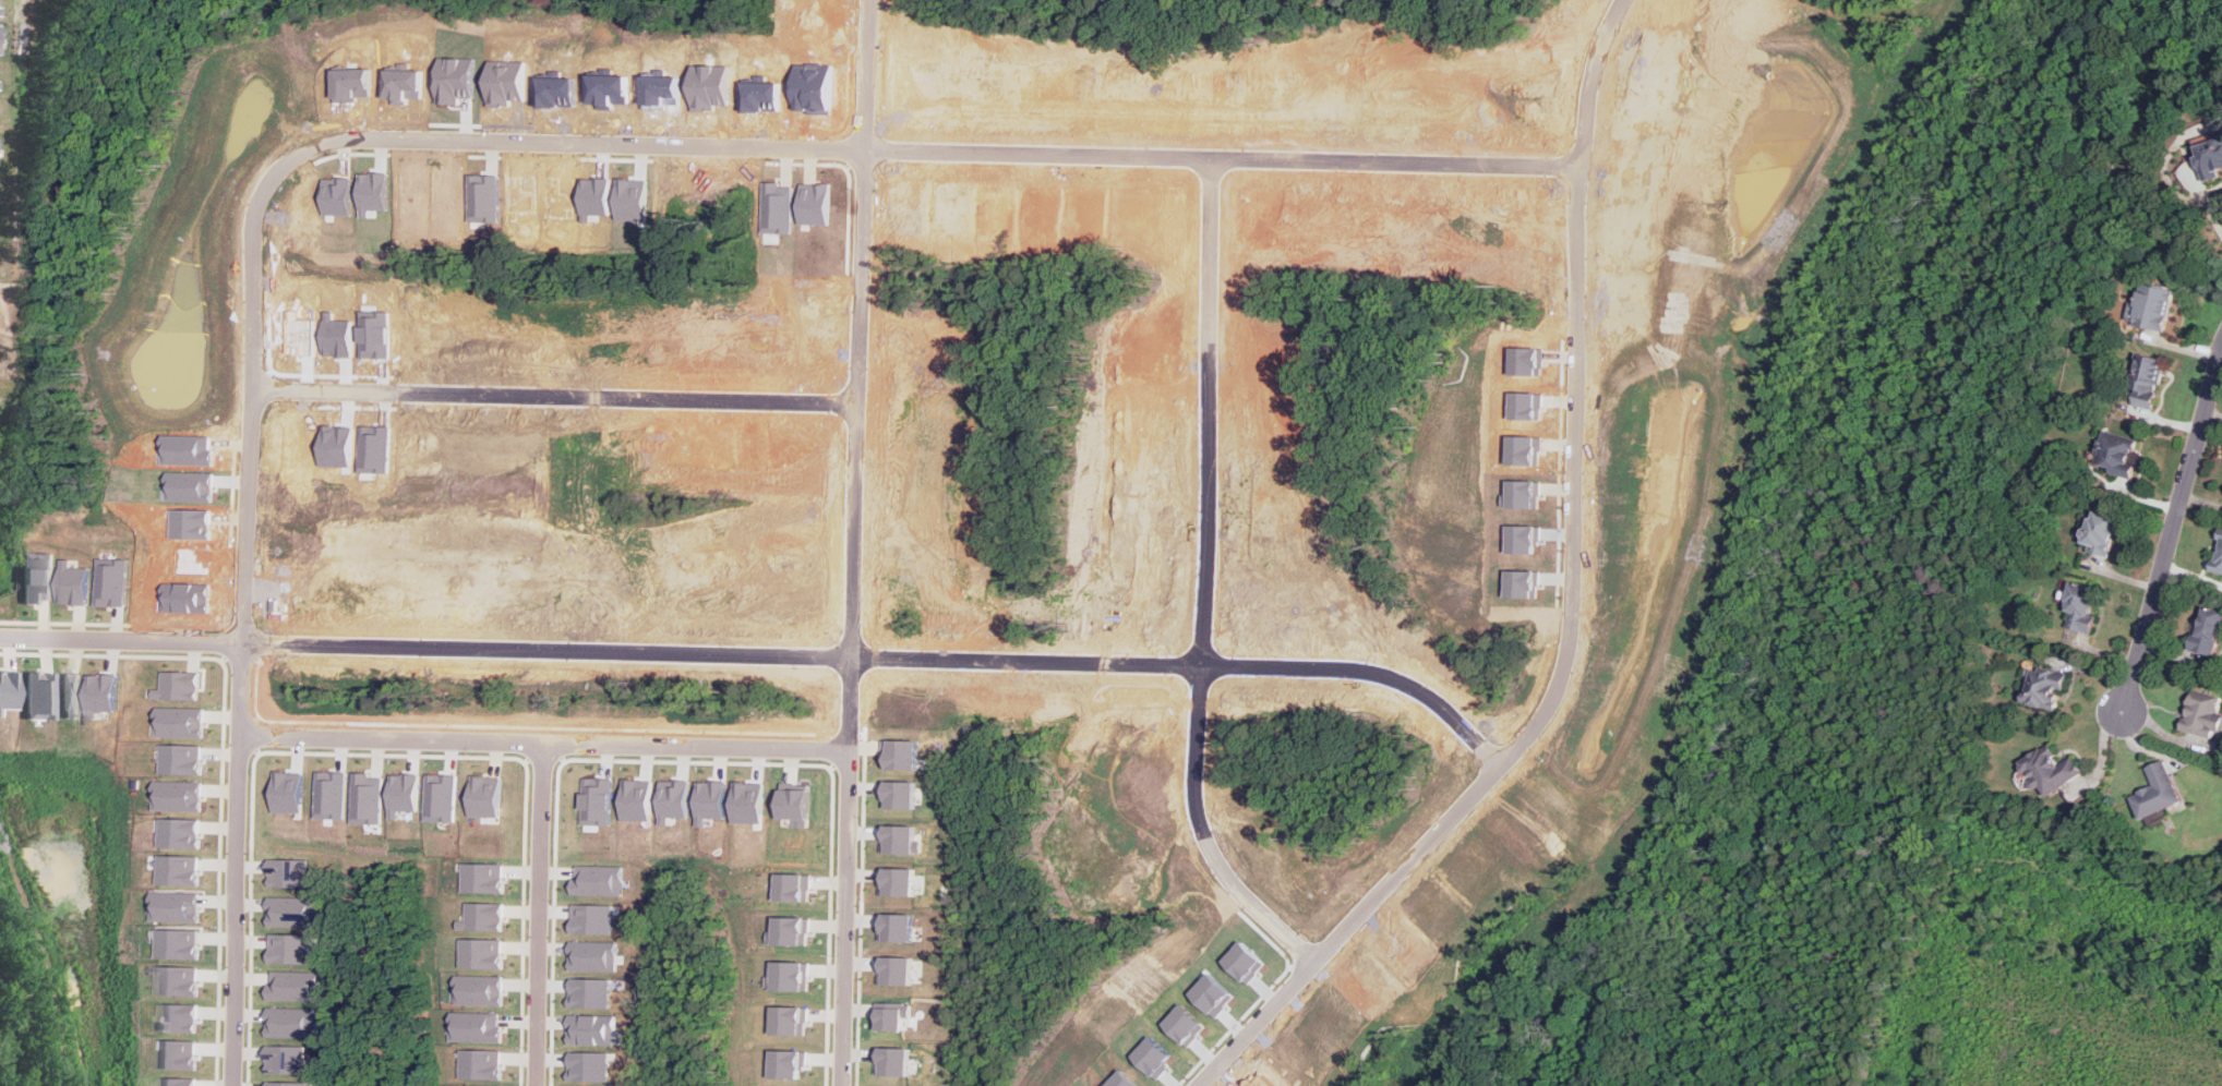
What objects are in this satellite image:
road: (875, 74)
road: (1600, 80)
building: (2209, 154)
road: (1233, 157)
road: (2206, 206)
road: (869, 276)
building: (2153, 306)
road: (254, 326)
building: (2146, 381)
road: (558, 399)
road: (1217, 413)
building: (2116, 451)
road: (2171, 528)
building: (2101, 531)
building: (2218, 558)
building: (36, 576)
road: (862, 576)
building: (72, 583)
building: (2081, 606)
building: (2208, 629)
road: (768, 653)
building: (182, 685)
building: (2045, 686)
building: (5, 689)
building: (70, 692)
building: (33, 695)
building: (107, 695)
road: (1559, 697)
building: (2202, 713)
building: (183, 721)
road: (393, 738)
road: (699, 746)
building: (901, 755)
building: (184, 758)
building: (2050, 770)
building: (2158, 789)
building: (900, 793)
building: (181, 795)
building: (408, 795)
building: (489, 796)
building: (371, 798)
building: (713, 798)
building: (600, 800)
building: (796, 807)
road: (1213, 832)
building: (183, 833)
building: (901, 838)
building: (182, 869)
building: (291, 873)
building: (485, 877)
building: (601, 880)
building: (901, 881)
building: (795, 886)
building: (179, 906)
building: (293, 912)
road: (540, 914)
building: (485, 916)
building: (596, 918)
road: (850, 918)
building: (898, 927)
building: (792, 930)
building: (181, 943)
building: (290, 948)
building: (484, 953)
building: (597, 955)
building: (896, 969)
building: (791, 976)
building: (180, 980)
building: (295, 986)
building: (481, 991)
building: (894, 1015)
building: (179, 1017)
building: (792, 1019)
building: (291, 1022)
building: (477, 1026)
building: (594, 1029)
building: (178, 1053)
building: (287, 1059)
building: (896, 1061)
building: (481, 1063)
building: (790, 1063)
building: (179, 1081)
building: (288, 1083)

